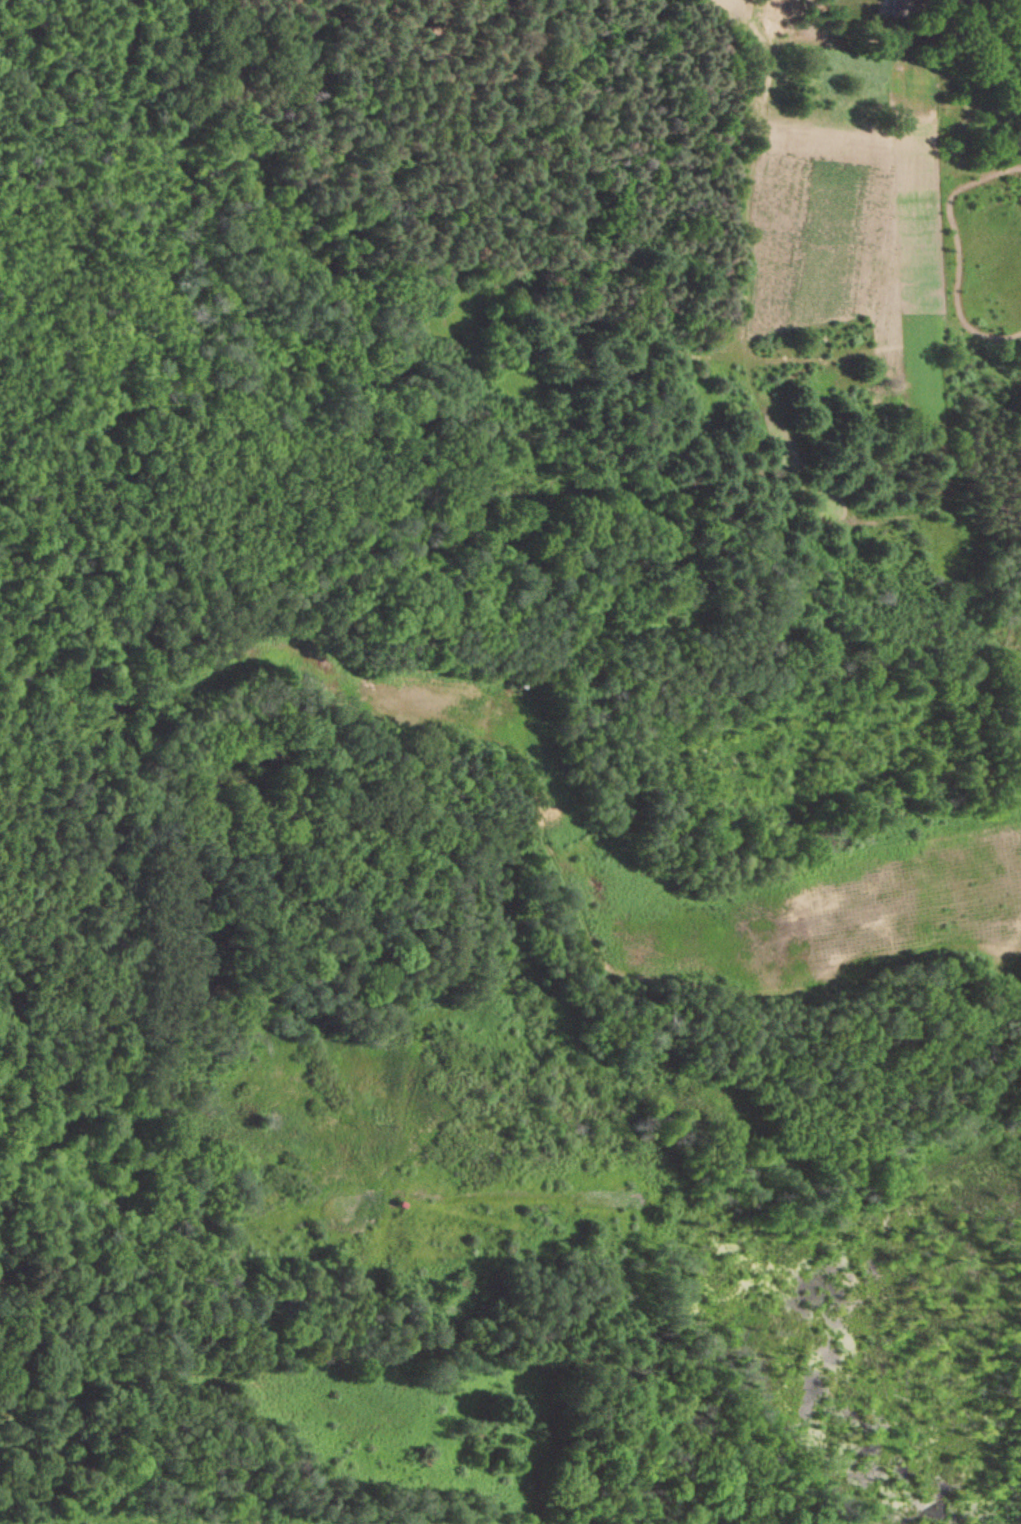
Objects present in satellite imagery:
building: (899, 6)

